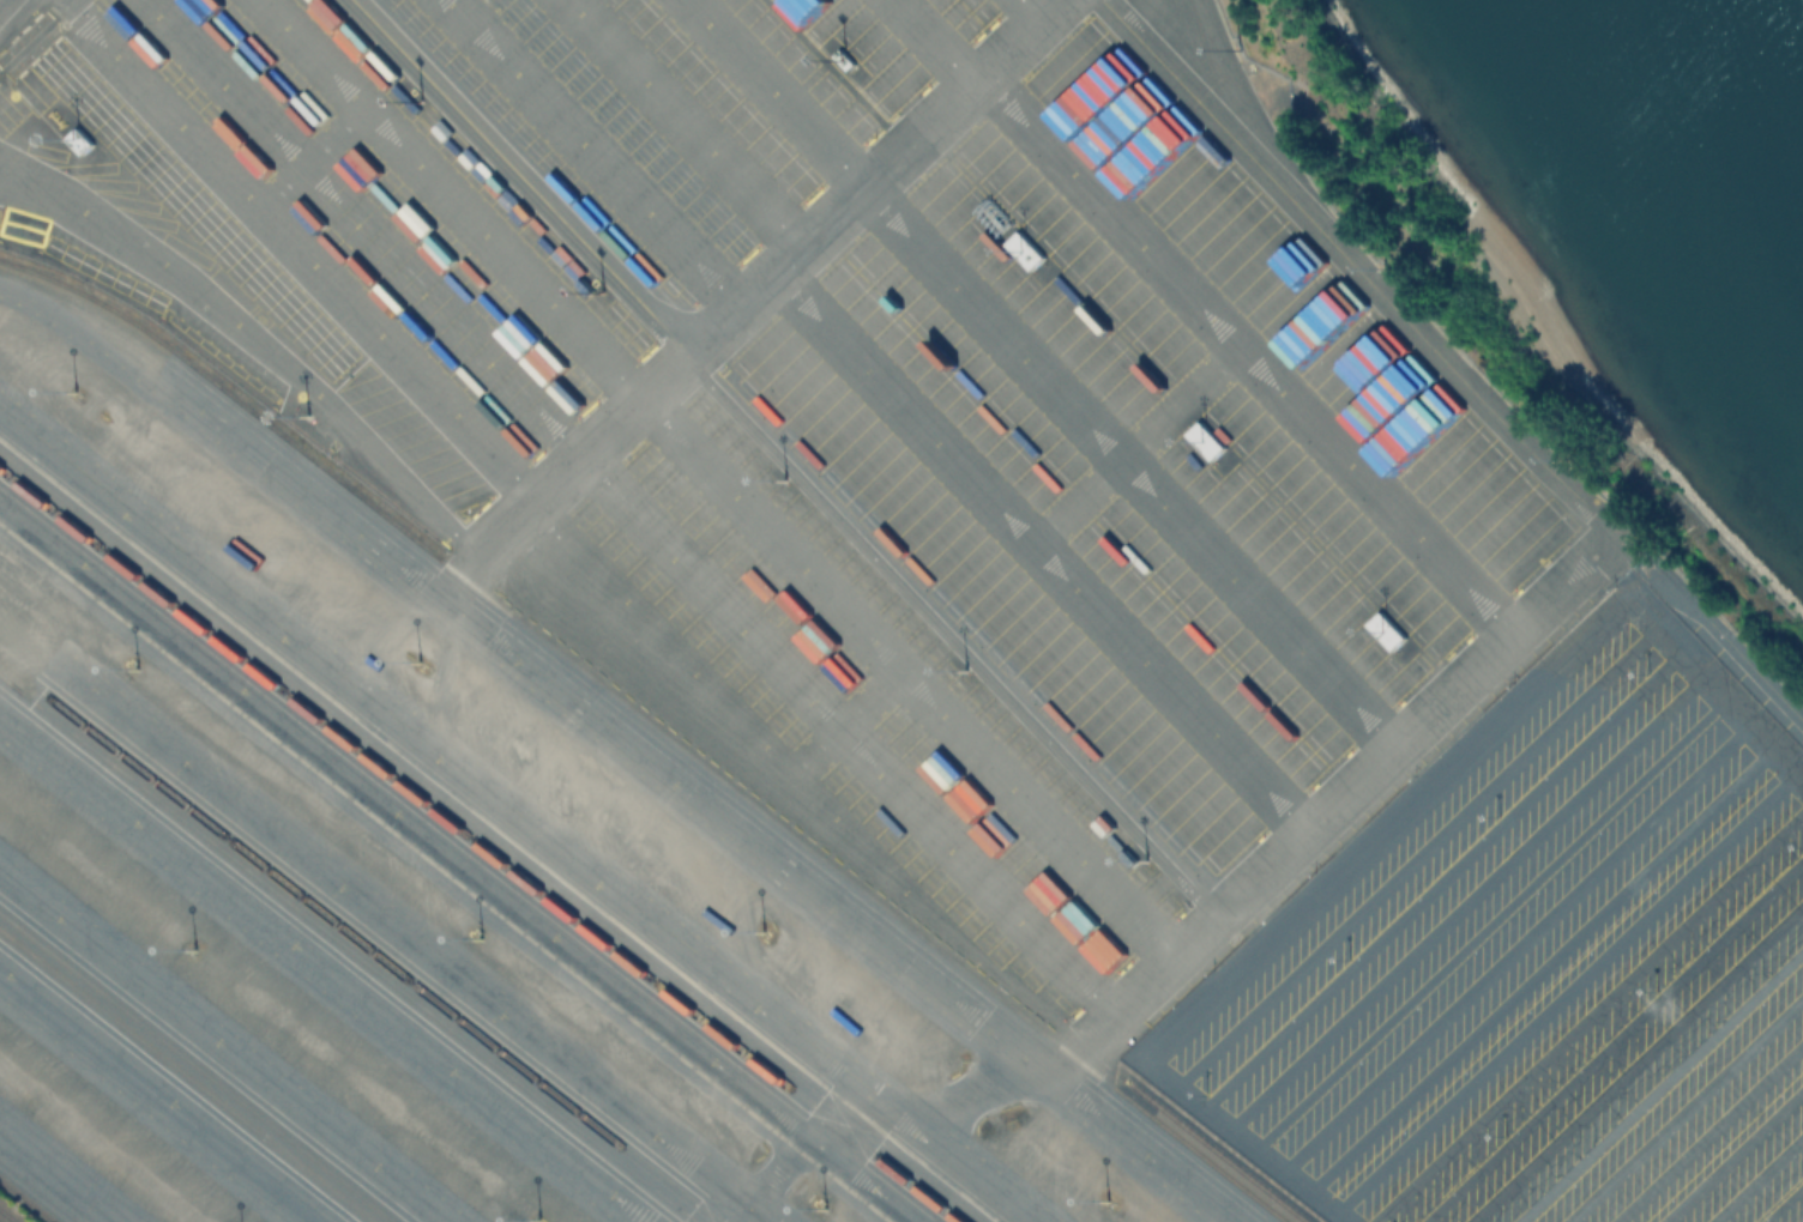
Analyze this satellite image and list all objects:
building: (846, 60)
building: (79, 144)
building: (1026, 250)
road: (747, 297)
building: (1207, 441)
road: (722, 479)
road: (1618, 570)
building: (638, 579)
building: (1388, 631)
road: (1748, 661)
railway: (8, 682)
railway: (651, 724)
road: (1379, 825)
railway: (488, 839)
railway: (478, 846)
road: (1417, 851)
road: (1445, 875)
road: (1469, 897)
road: (1491, 918)
railway: (358, 942)
road: (1519, 943)
railway: (349, 949)
road: (1543, 966)
road: (1568, 987)
road: (1134, 997)
road: (1584, 1014)
road: (1611, 1039)
road: (1635, 1061)
railway: (195, 1067)
railway: (185, 1076)
road: (1659, 1084)
road: (1683, 1108)
road: (1707, 1130)
railway: (1212, 1151)
road: (1731, 1154)
road: (1756, 1178)
railway: (25, 1202)
road: (1781, 1202)
railway: (5, 1217)

